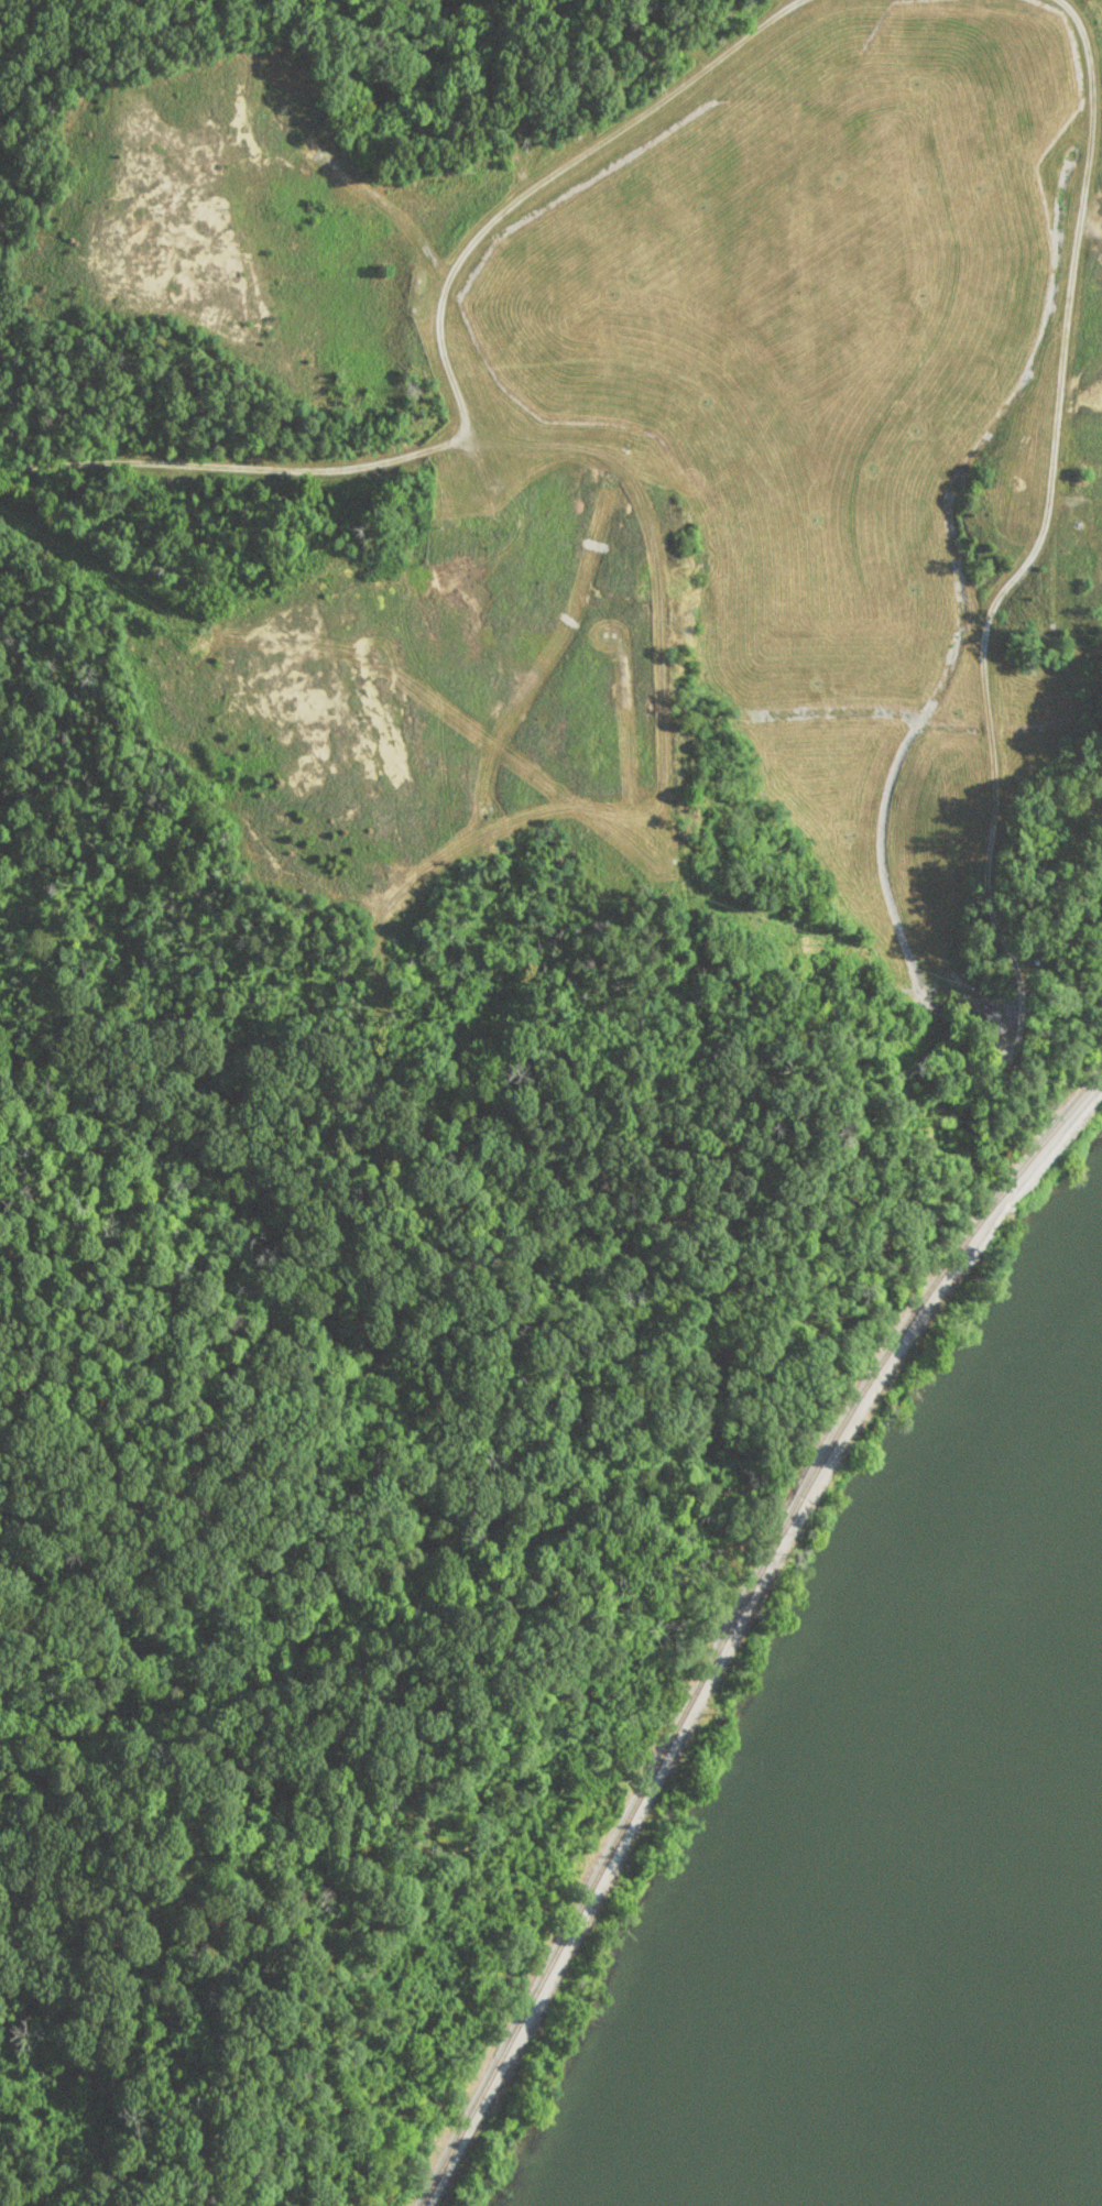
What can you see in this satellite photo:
railway: (732, 1623)
river: (1038, 2071)

